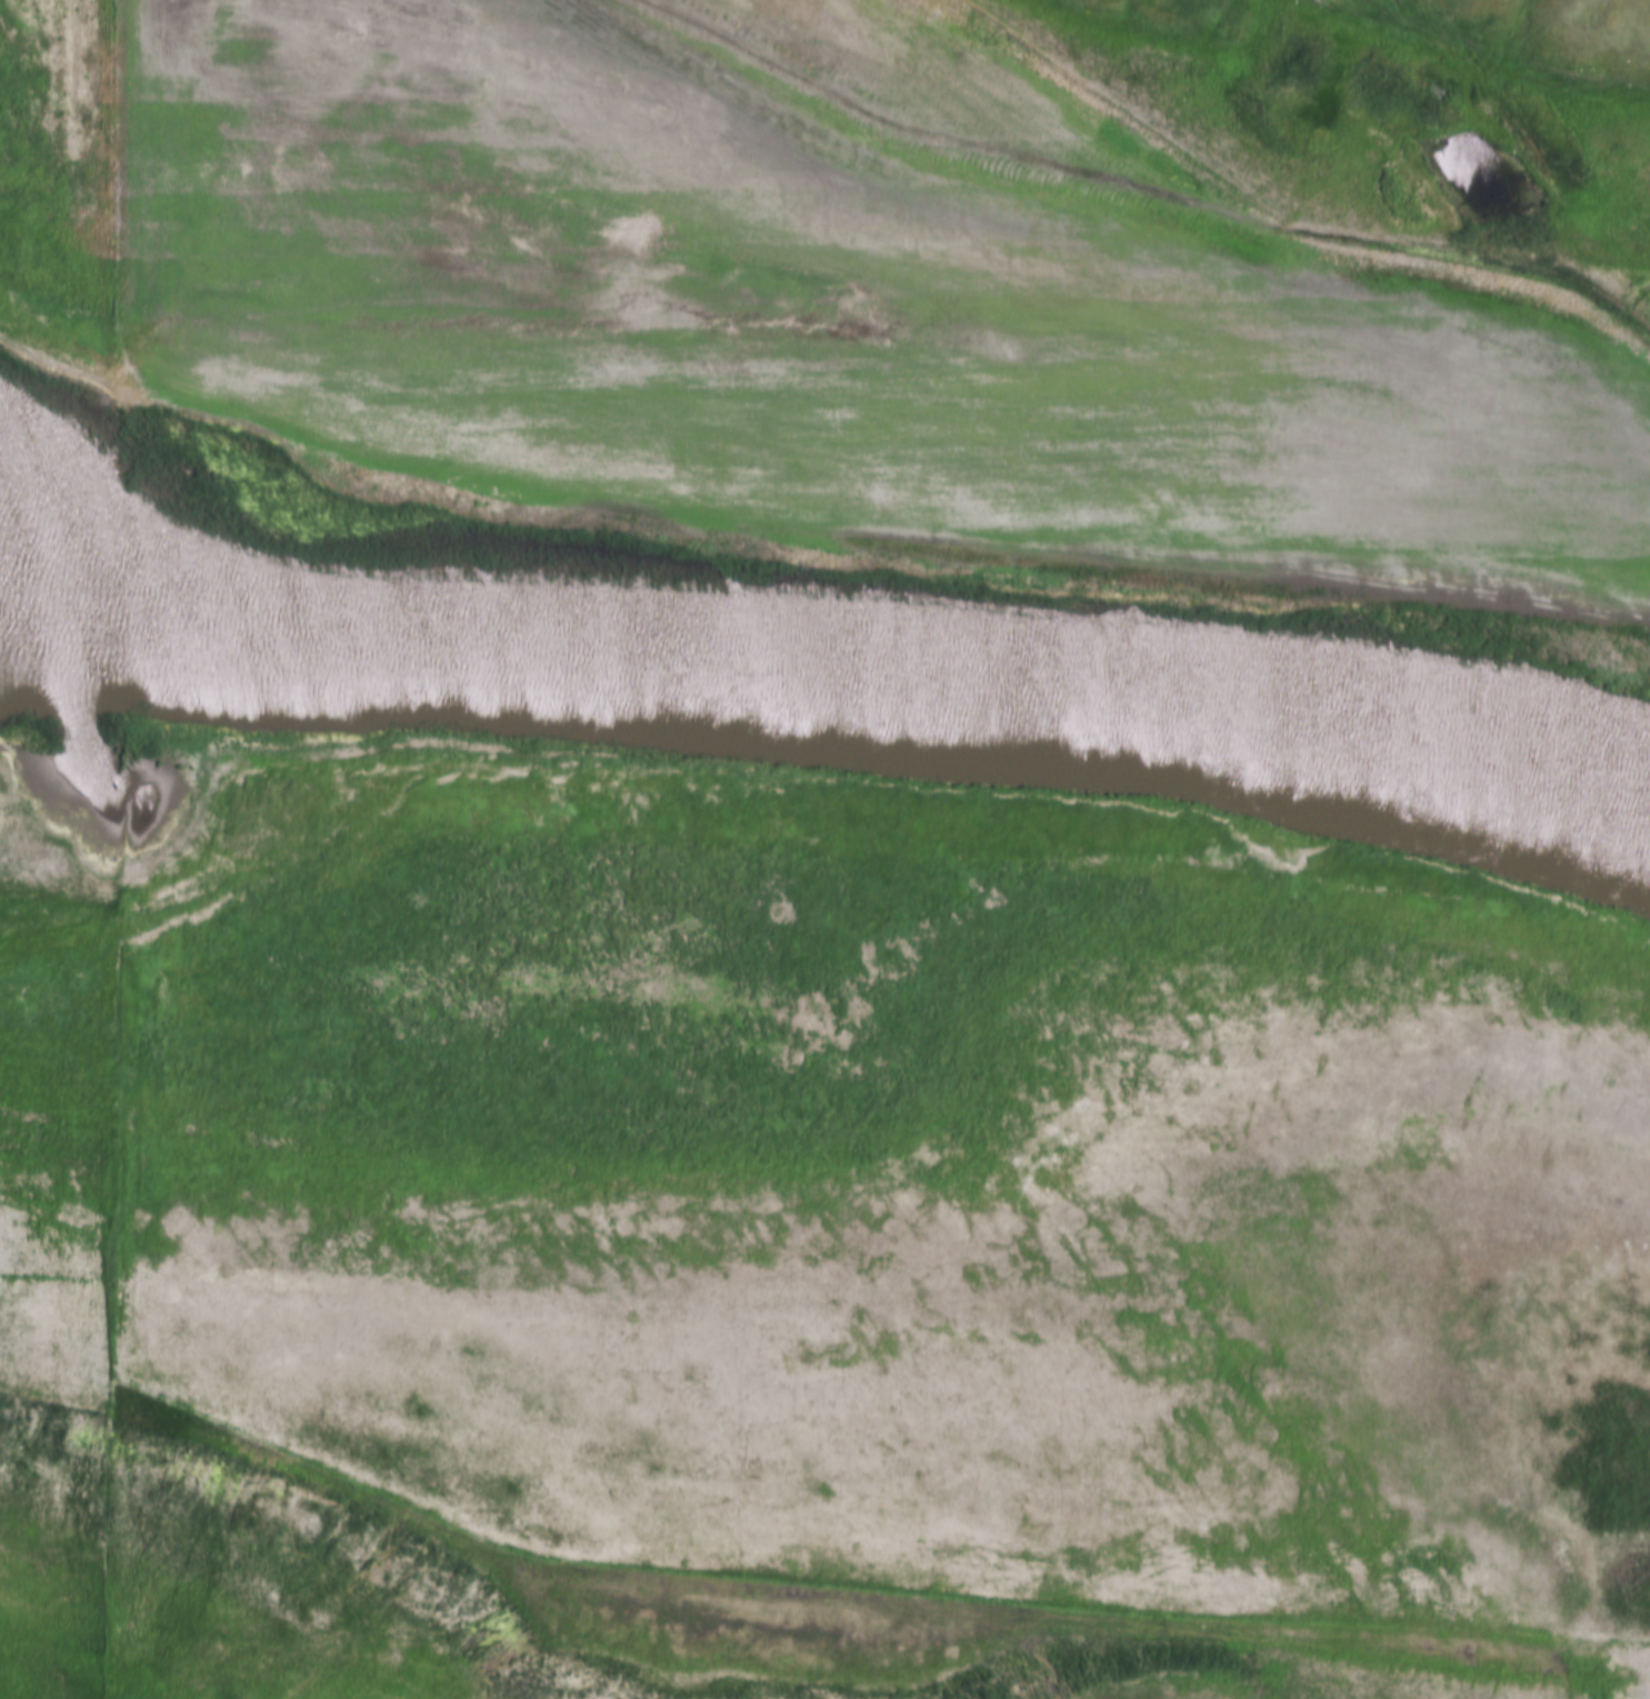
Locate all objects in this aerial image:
river: (819, 690)

